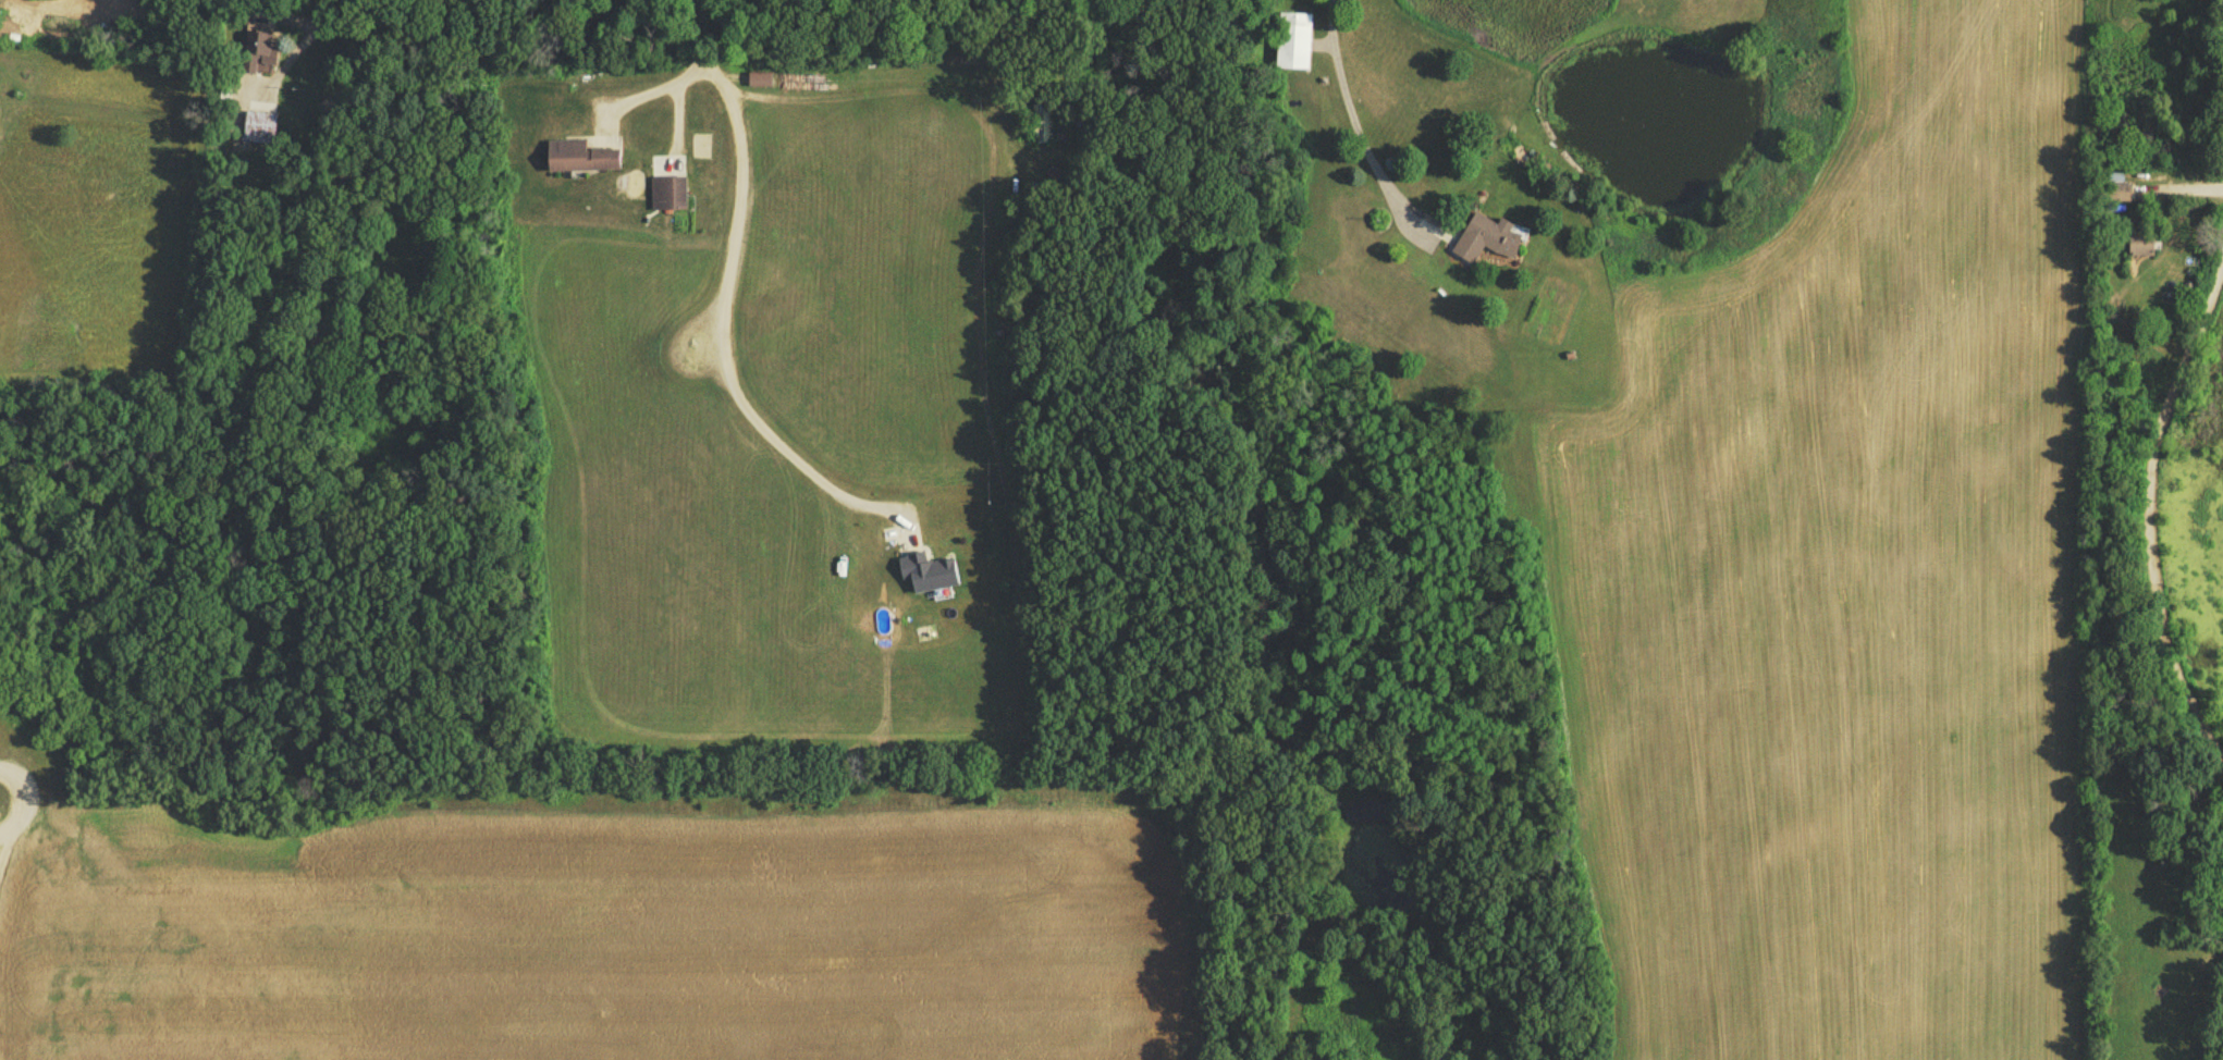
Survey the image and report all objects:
building: (30, 0)
road: (123, 24)
road: (304, 40)
building: (1297, 45)
building: (271, 50)
road: (648, 90)
road: (1356, 113)
building: (1047, 126)
building: (261, 130)
building: (584, 161)
building: (670, 167)
building: (2122, 196)
building: (671, 198)
building: (1490, 243)
building: (2146, 248)
road: (720, 306)
road: (2150, 522)

